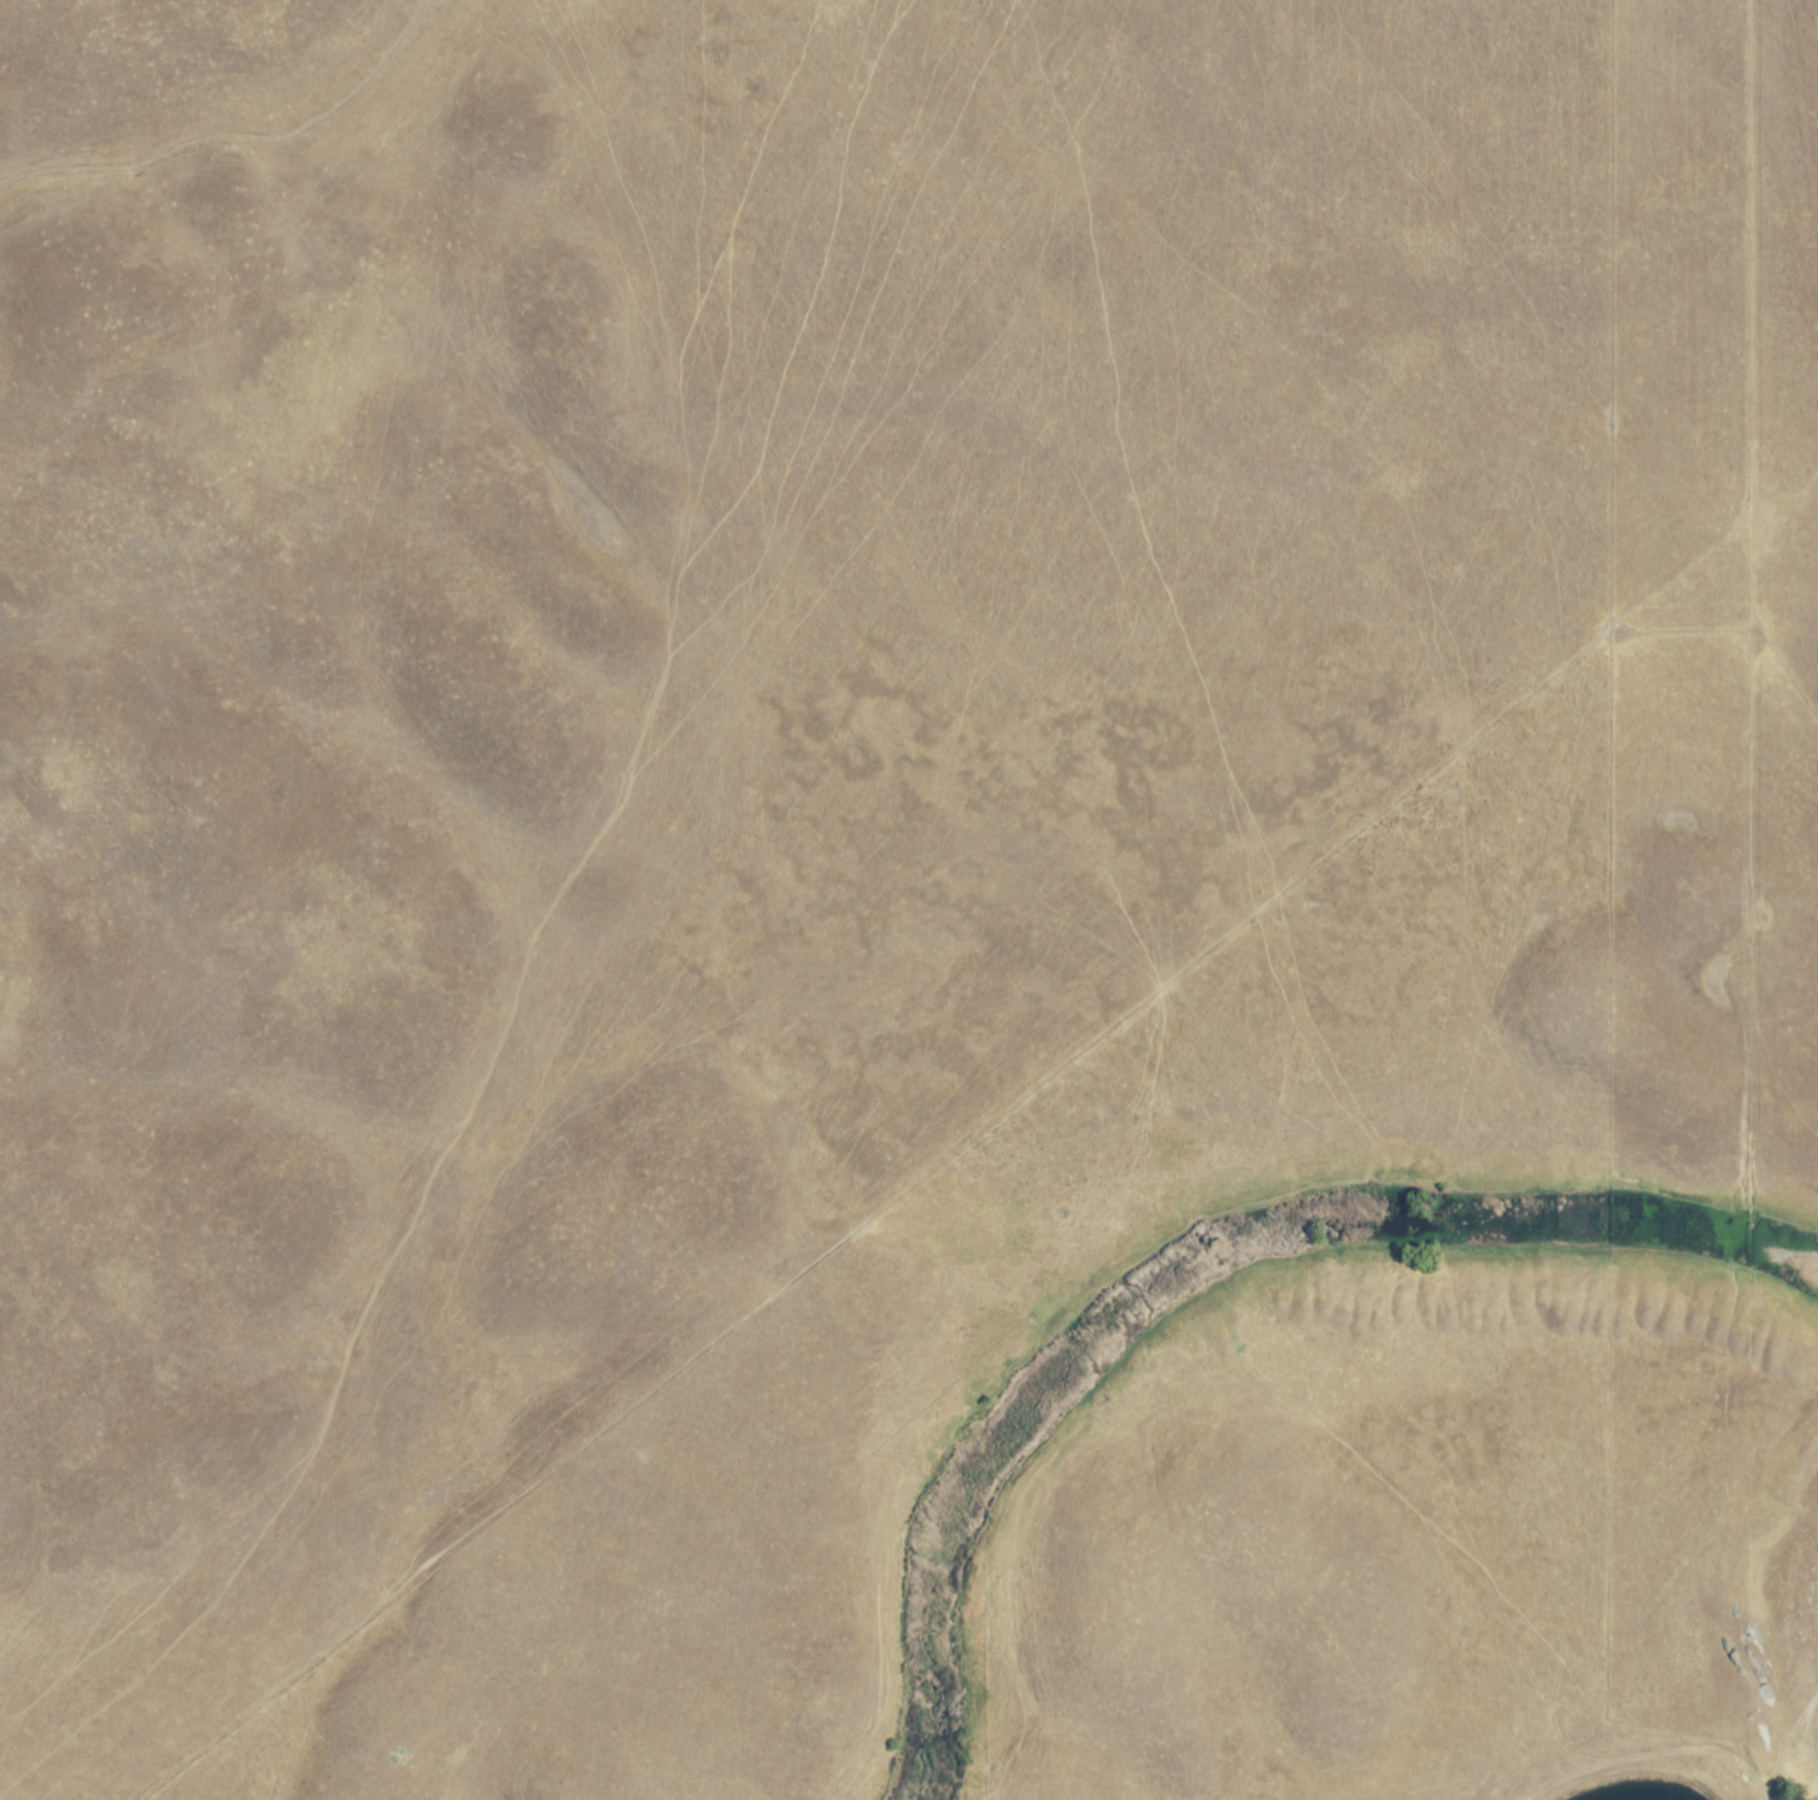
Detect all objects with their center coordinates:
road: (1652, 1751)

